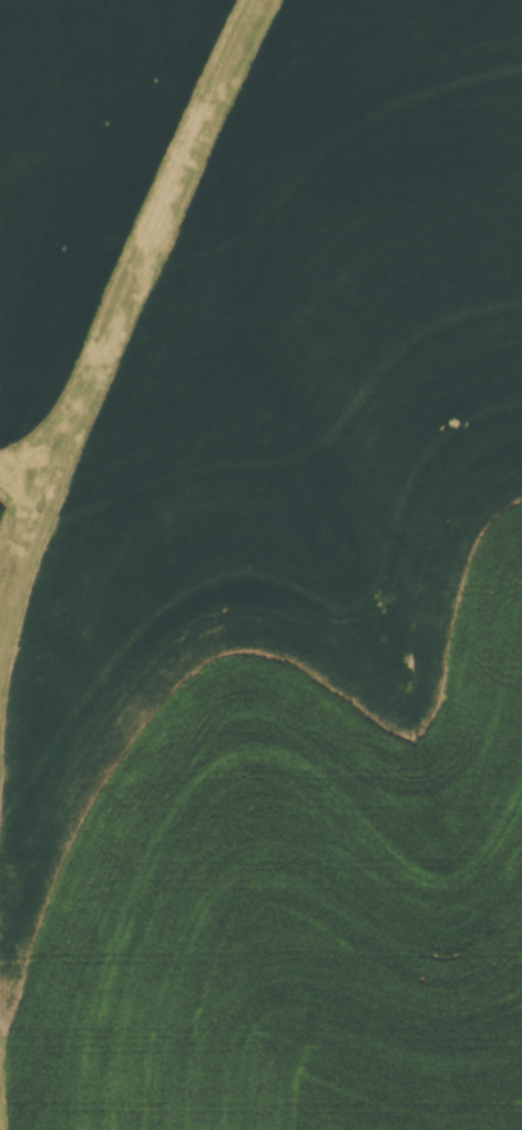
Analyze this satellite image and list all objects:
road: (144, 251)
road: (31, 574)

